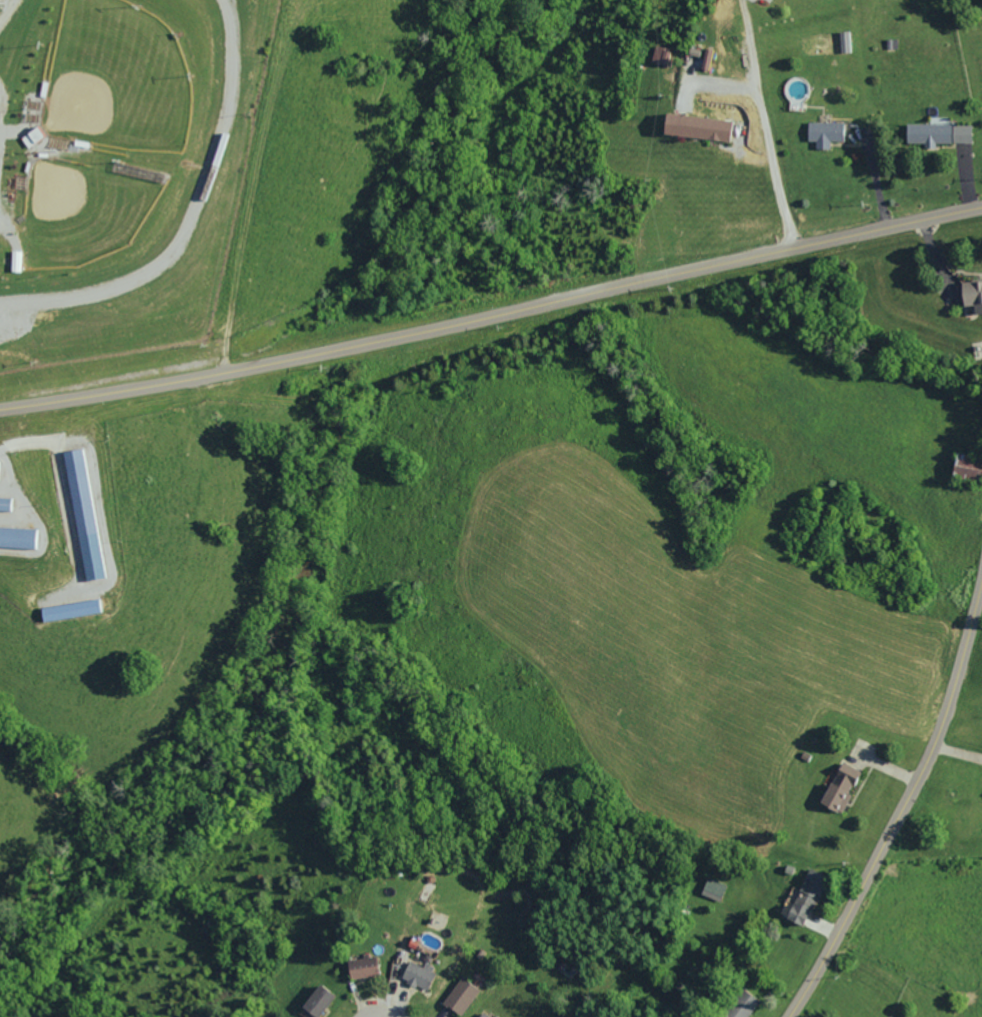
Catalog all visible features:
building: (658, 55)
building: (704, 59)
building: (693, 127)
building: (822, 134)
building: (926, 134)
building: (30, 136)
park: (138, 167)
building: (14, 261)
building: (970, 295)
road: (492, 314)
building: (964, 467)
building: (4, 502)
building: (82, 513)
building: (19, 536)
building: (67, 609)
road: (955, 763)
building: (838, 787)
road: (905, 803)
building: (712, 889)
building: (804, 895)
building: (360, 966)
building: (416, 974)
building: (458, 996)
building: (315, 1001)
building: (739, 1004)
road: (377, 1013)
building: (482, 1014)

